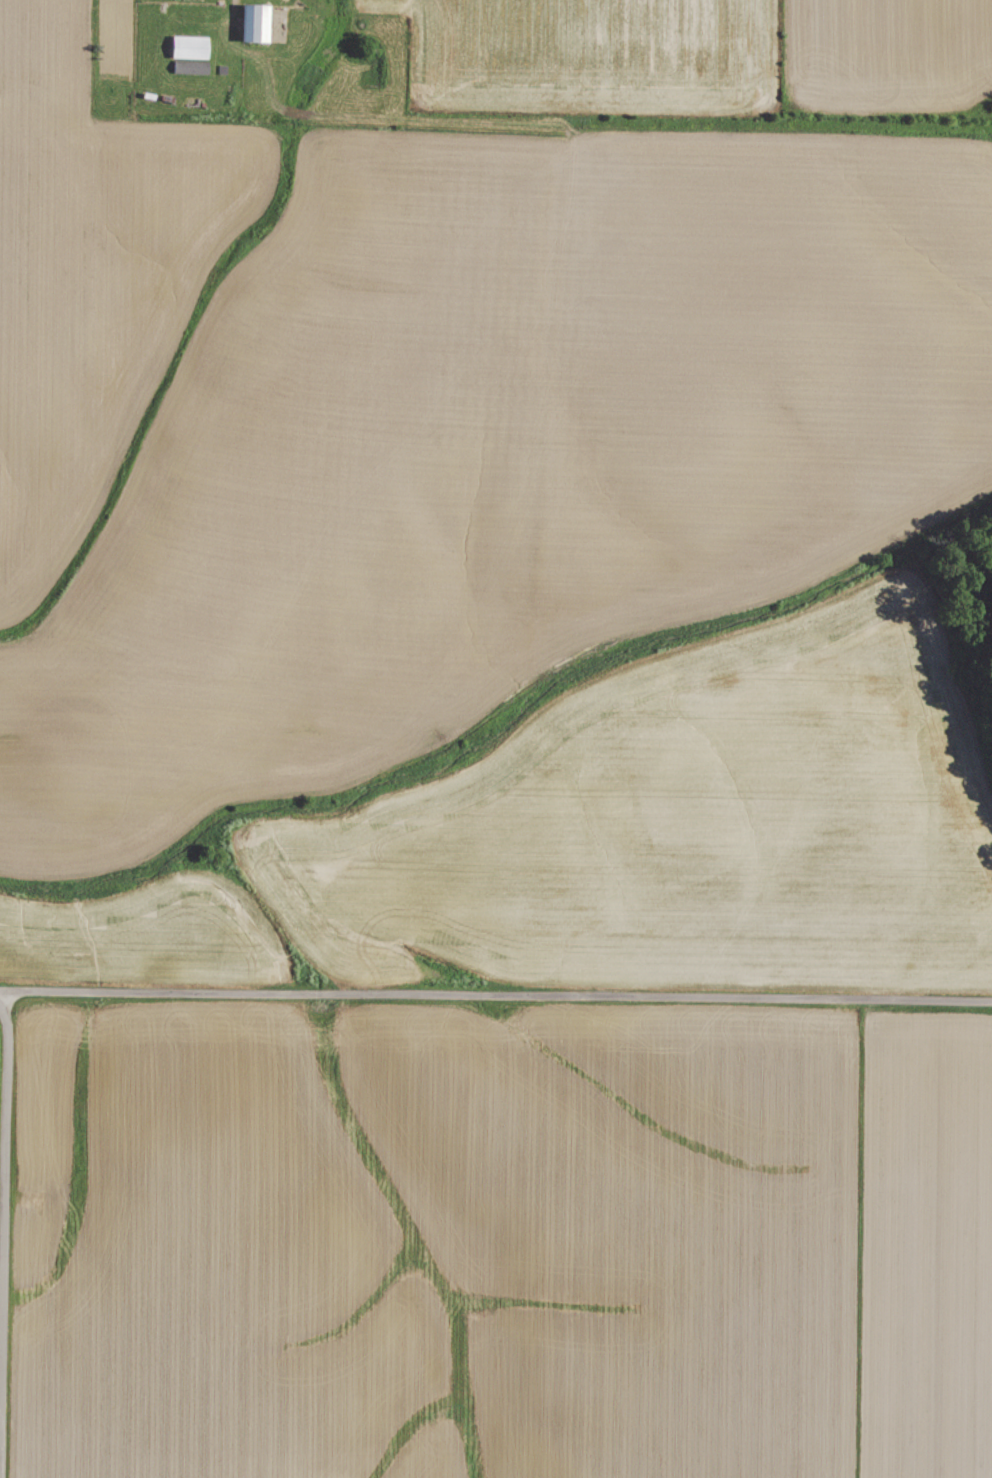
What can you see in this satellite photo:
building: (251, 23)
building: (186, 47)
road: (495, 993)
road: (5, 1117)

